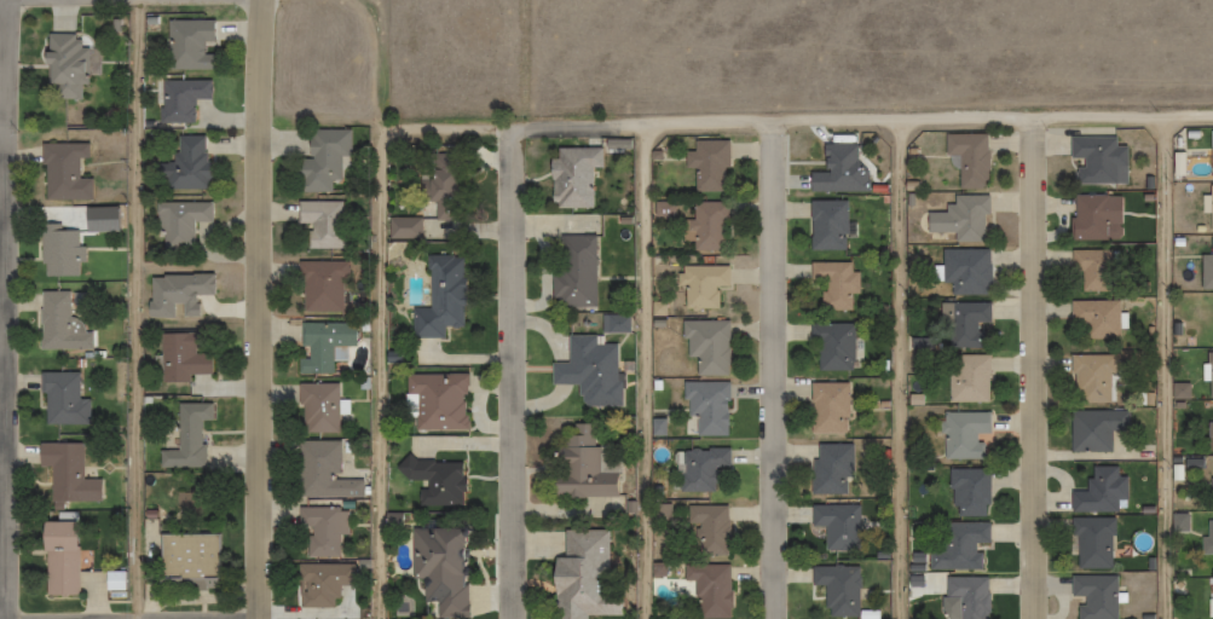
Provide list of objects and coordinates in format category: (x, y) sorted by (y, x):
building: (187, 44)
building: (69, 65)
road: (267, 73)
building: (179, 98)
road: (801, 123)
building: (966, 157)
building: (1097, 158)
building: (320, 160)
building: (1212, 162)
building: (186, 163)
building: (706, 163)
building: (834, 169)
building: (64, 172)
building: (571, 177)
building: (1211, 208)
building: (1094, 216)
building: (960, 218)
building: (178, 222)
building: (322, 222)
building: (826, 224)
building: (706, 226)
building: (59, 250)
building: (1212, 264)
building: (1091, 268)
building: (573, 270)
building: (964, 271)
building: (701, 284)
building: (834, 284)
building: (319, 287)
building: (439, 299)
road: (388, 307)
road: (11, 308)
road: (144, 308)
building: (1094, 318)
building: (62, 322)
building: (964, 323)
building: (323, 345)
building: (705, 345)
building: (832, 345)
building: (181, 357)
road: (1171, 369)
building: (588, 370)
road: (906, 370)
road: (1036, 370)
road: (781, 371)
road: (516, 372)
road: (652, 372)
building: (1209, 374)
building: (967, 377)
building: (1091, 377)
road: (266, 381)
building: (62, 399)
building: (433, 401)
building: (706, 406)
building: (317, 407)
building: (827, 407)
building: (1094, 428)
building: (961, 434)
building: (1209, 435)
building: (187, 436)
building: (580, 465)
building: (699, 467)
building: (831, 468)
building: (320, 470)
building: (67, 473)
building: (435, 480)
building: (1099, 490)
building: (967, 491)
building: (834, 525)
building: (706, 528)
building: (322, 530)
building: (1207, 536)
building: (1090, 542)
building: (957, 545)
building: (58, 556)
building: (185, 557)
building: (435, 568)
building: (580, 574)
building: (324, 584)
building: (709, 589)
building: (837, 589)
building: (967, 596)
building: (1093, 596)

